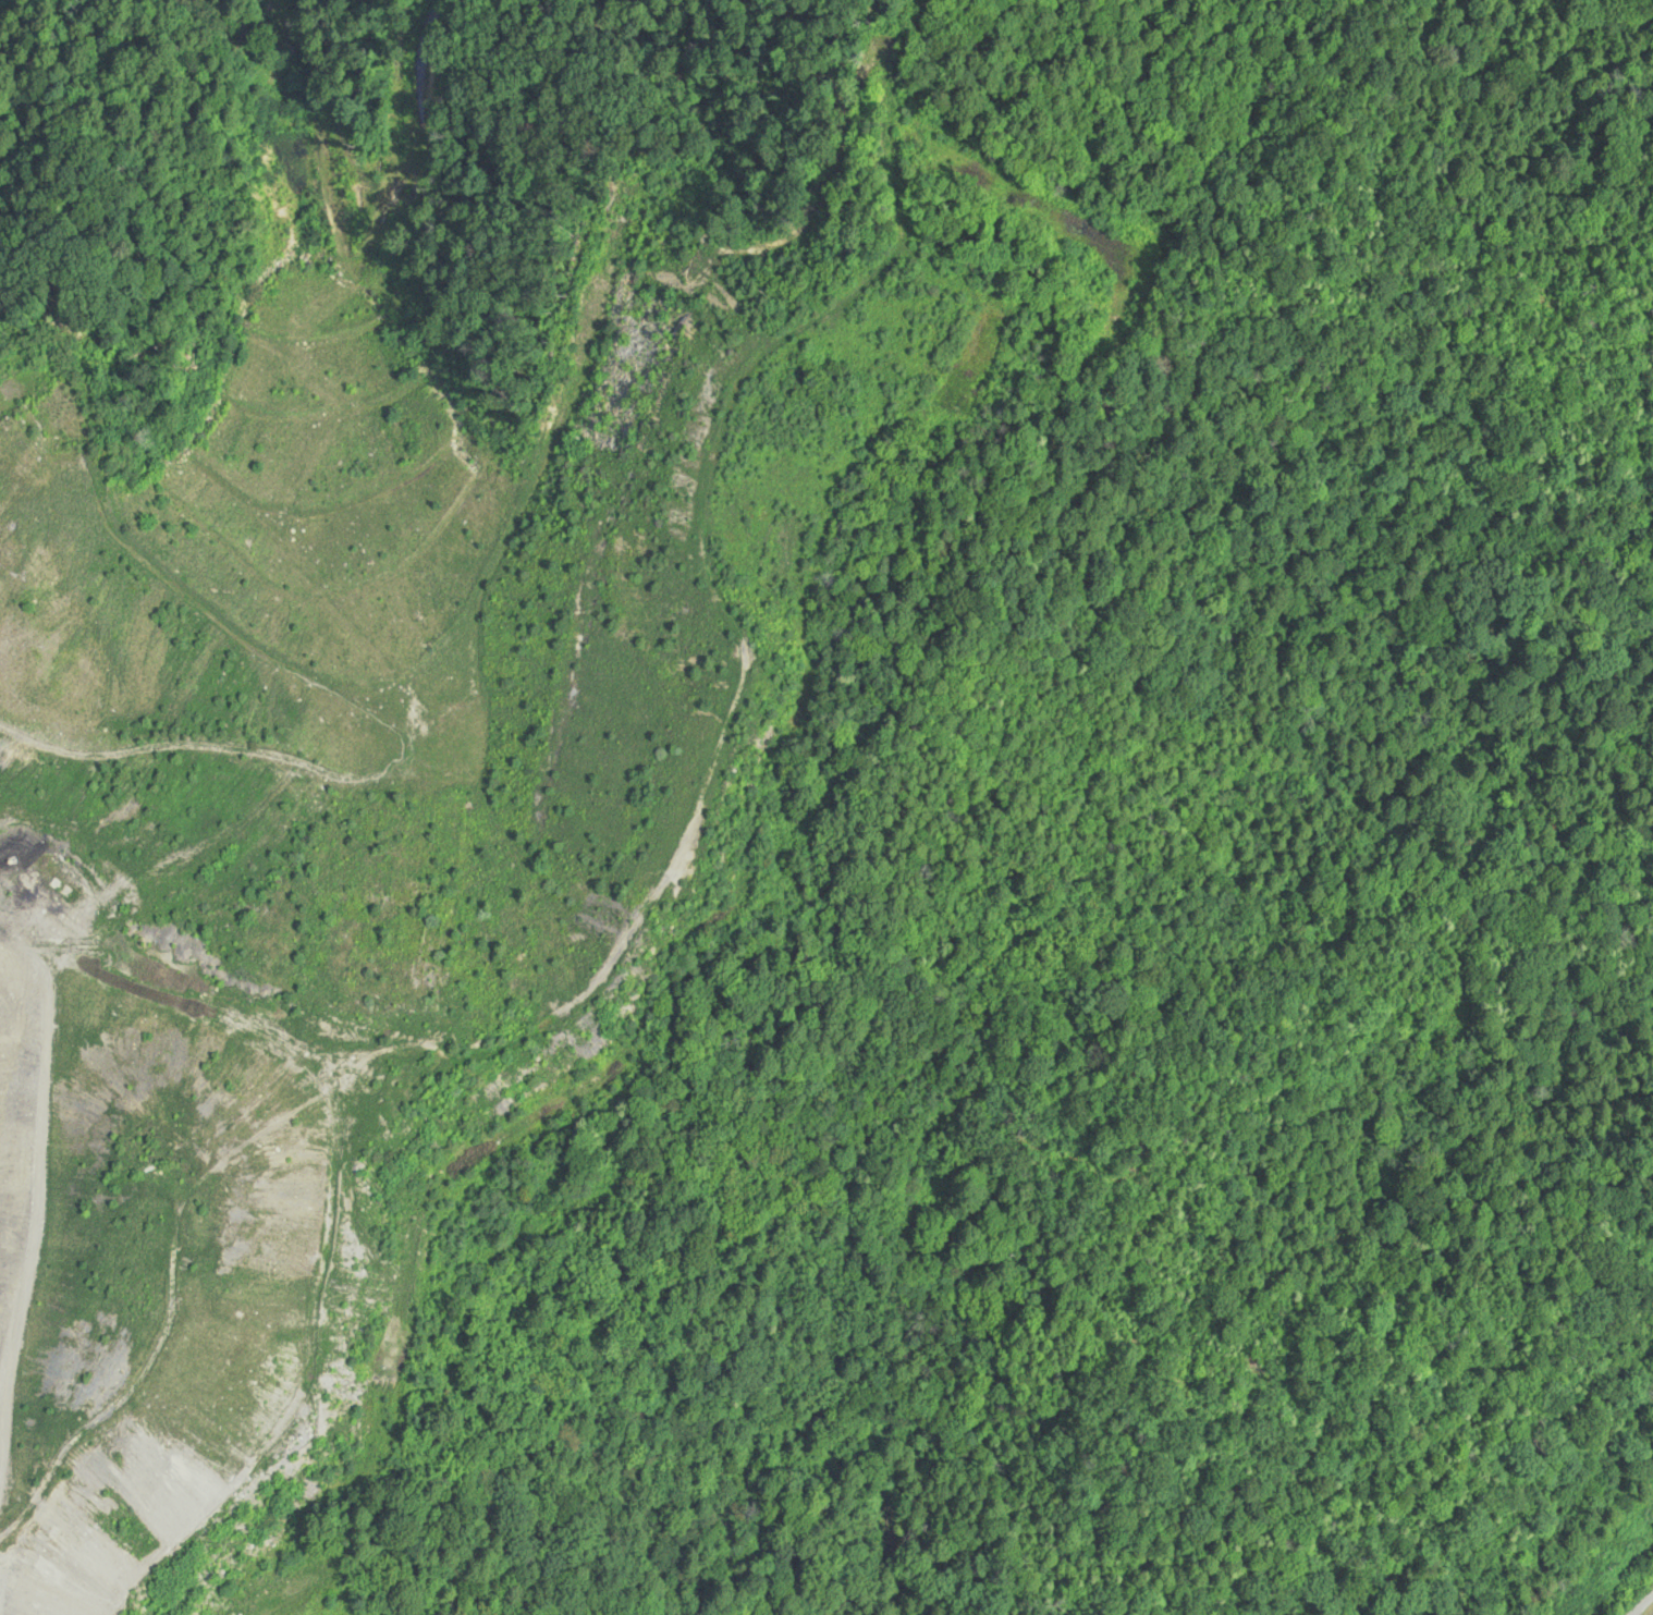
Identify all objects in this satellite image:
road: (1614, 1594)

